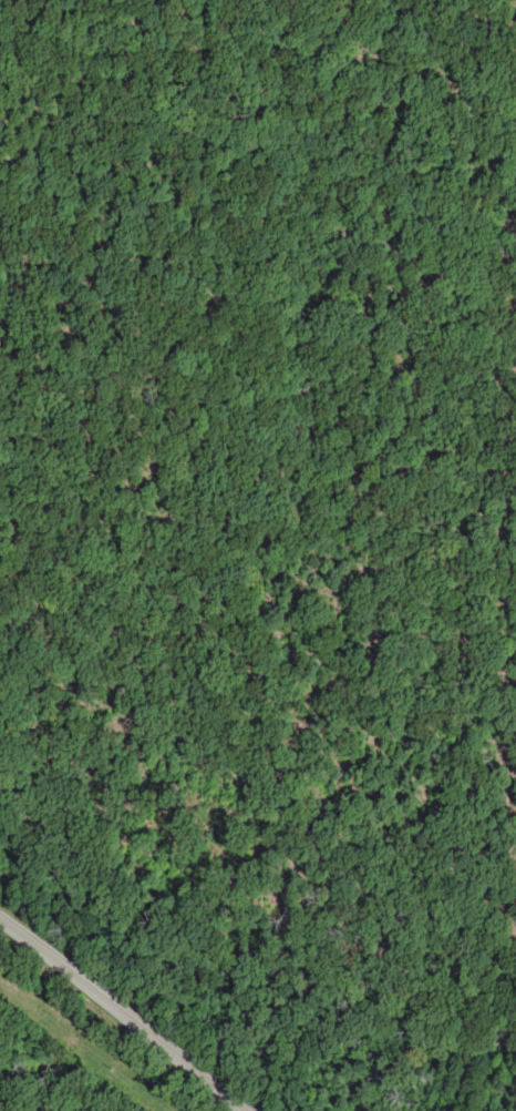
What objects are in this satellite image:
road: (282, 350)
park: (116, 549)
road: (390, 671)
road: (128, 1010)

